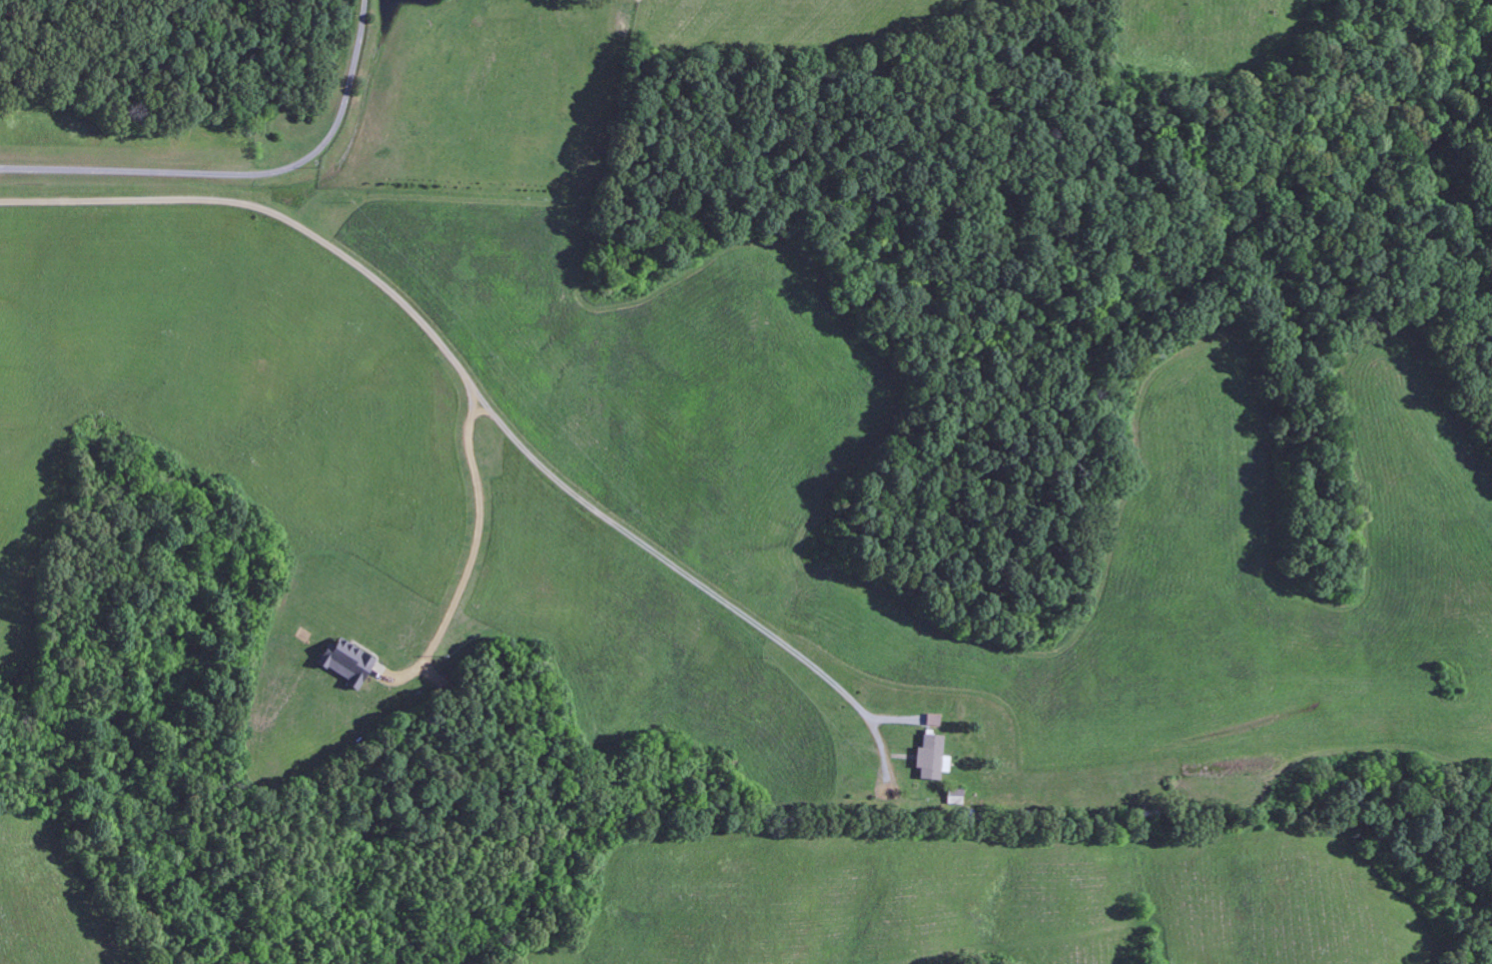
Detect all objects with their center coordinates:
building: (345, 662)
building: (929, 758)
building: (954, 797)

